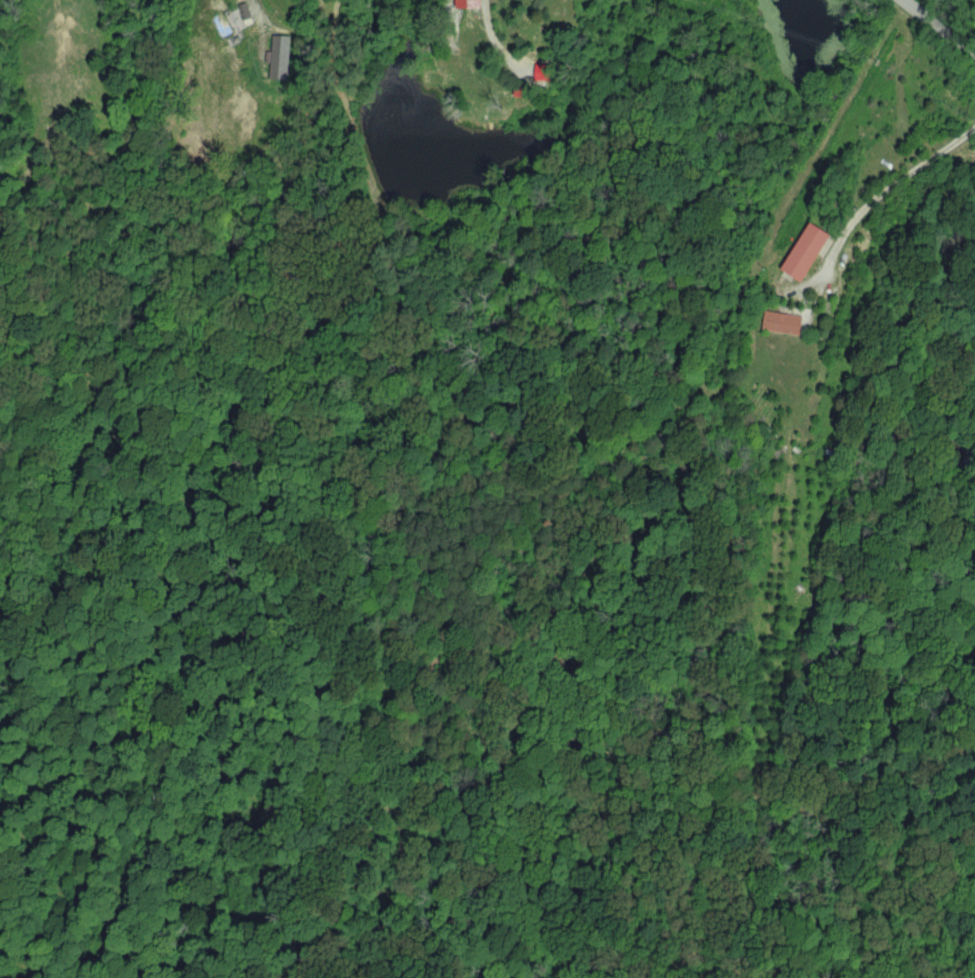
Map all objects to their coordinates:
building: (466, 3)
road: (452, 10)
road: (255, 12)
road: (940, 30)
road: (884, 192)
building: (807, 251)
building: (782, 322)

